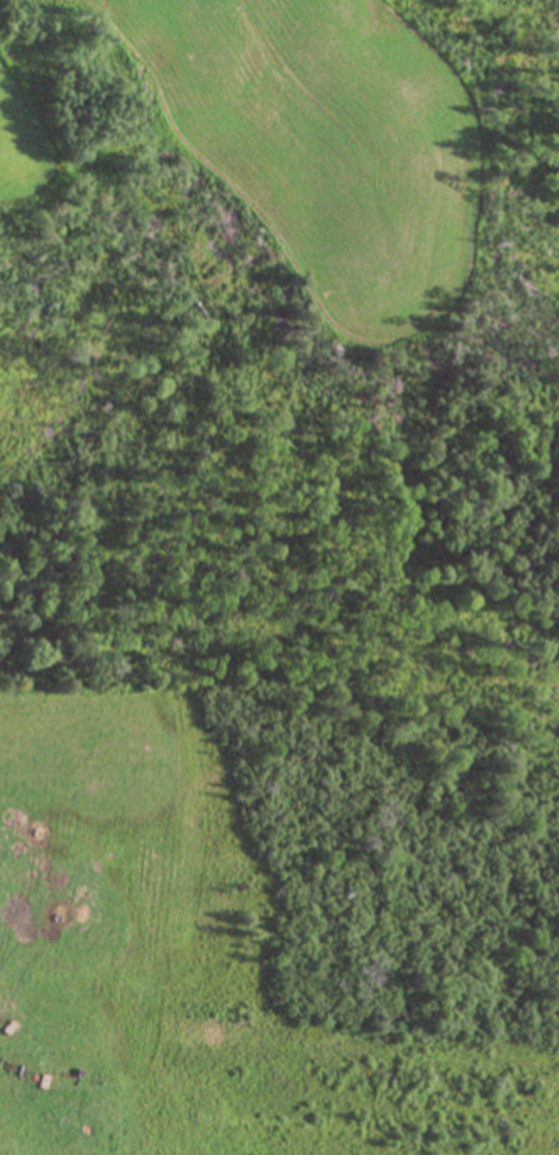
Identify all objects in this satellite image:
crop: (244, 990)

